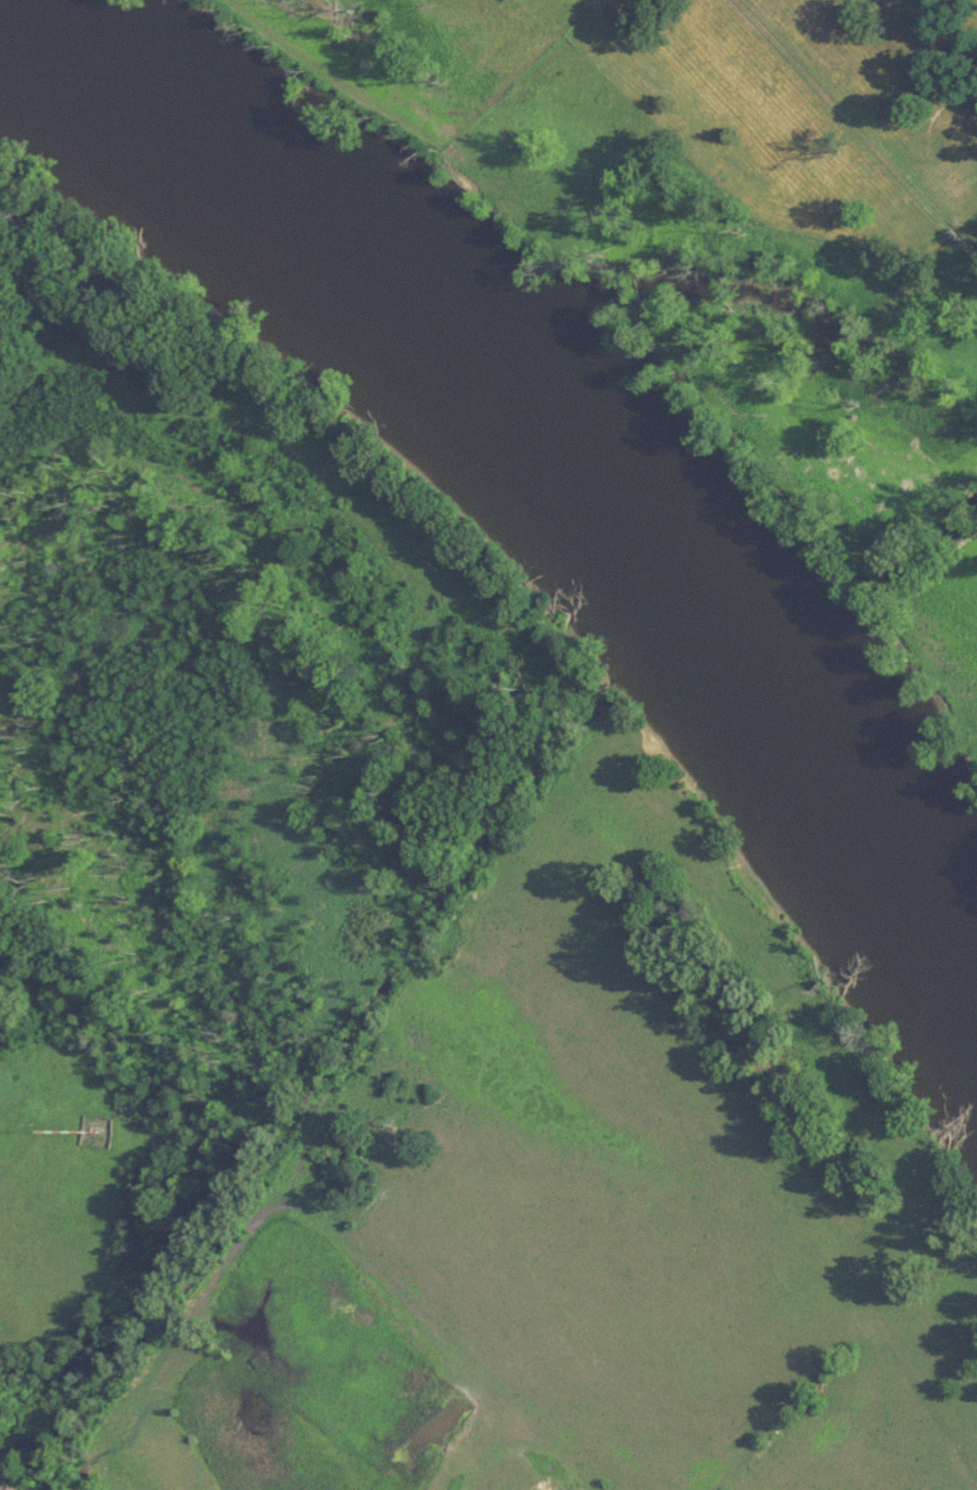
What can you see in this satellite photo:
river: (548, 439)
building: (94, 1131)
railway: (1, 1488)

